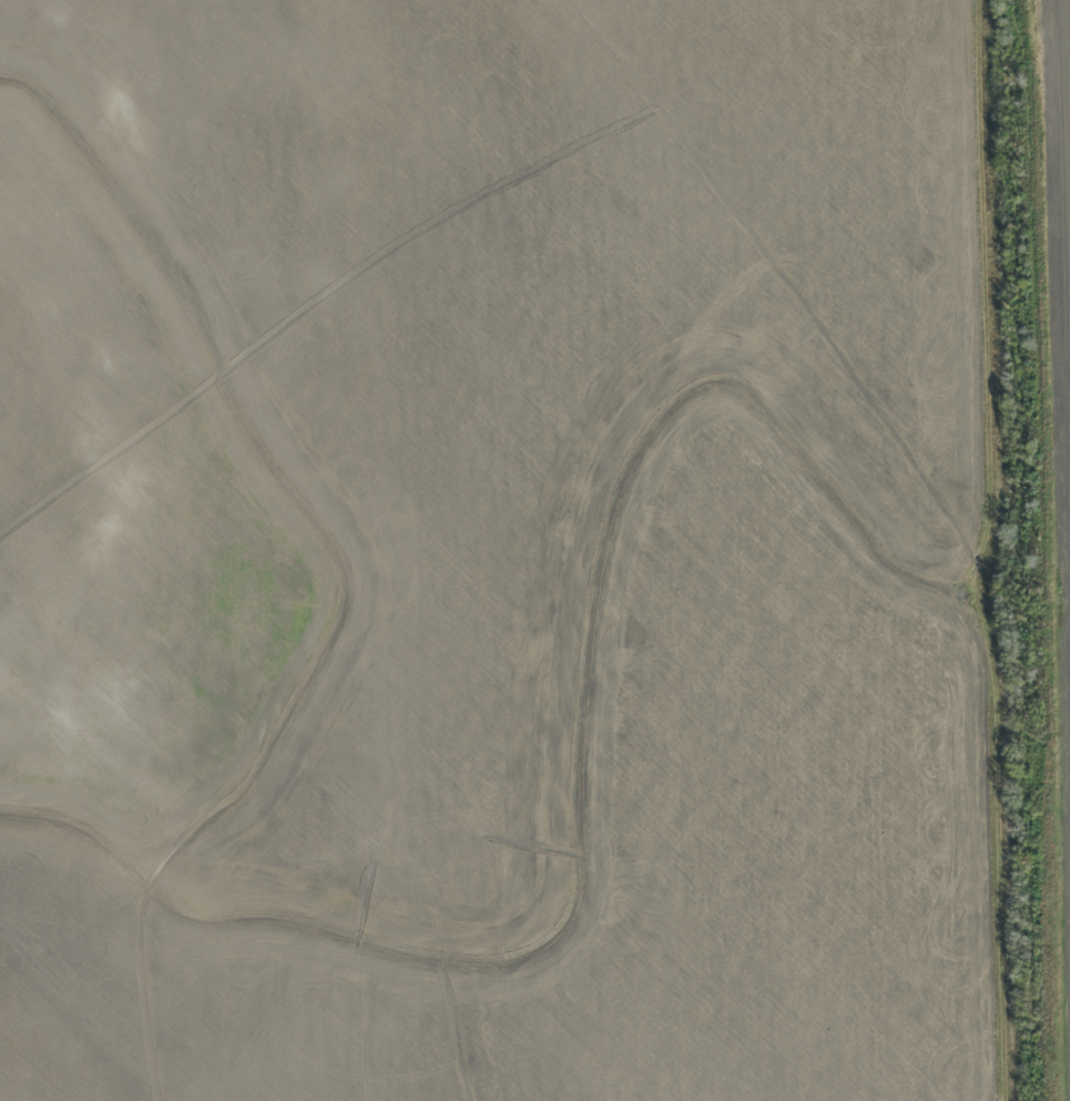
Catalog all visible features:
road: (1061, 513)

